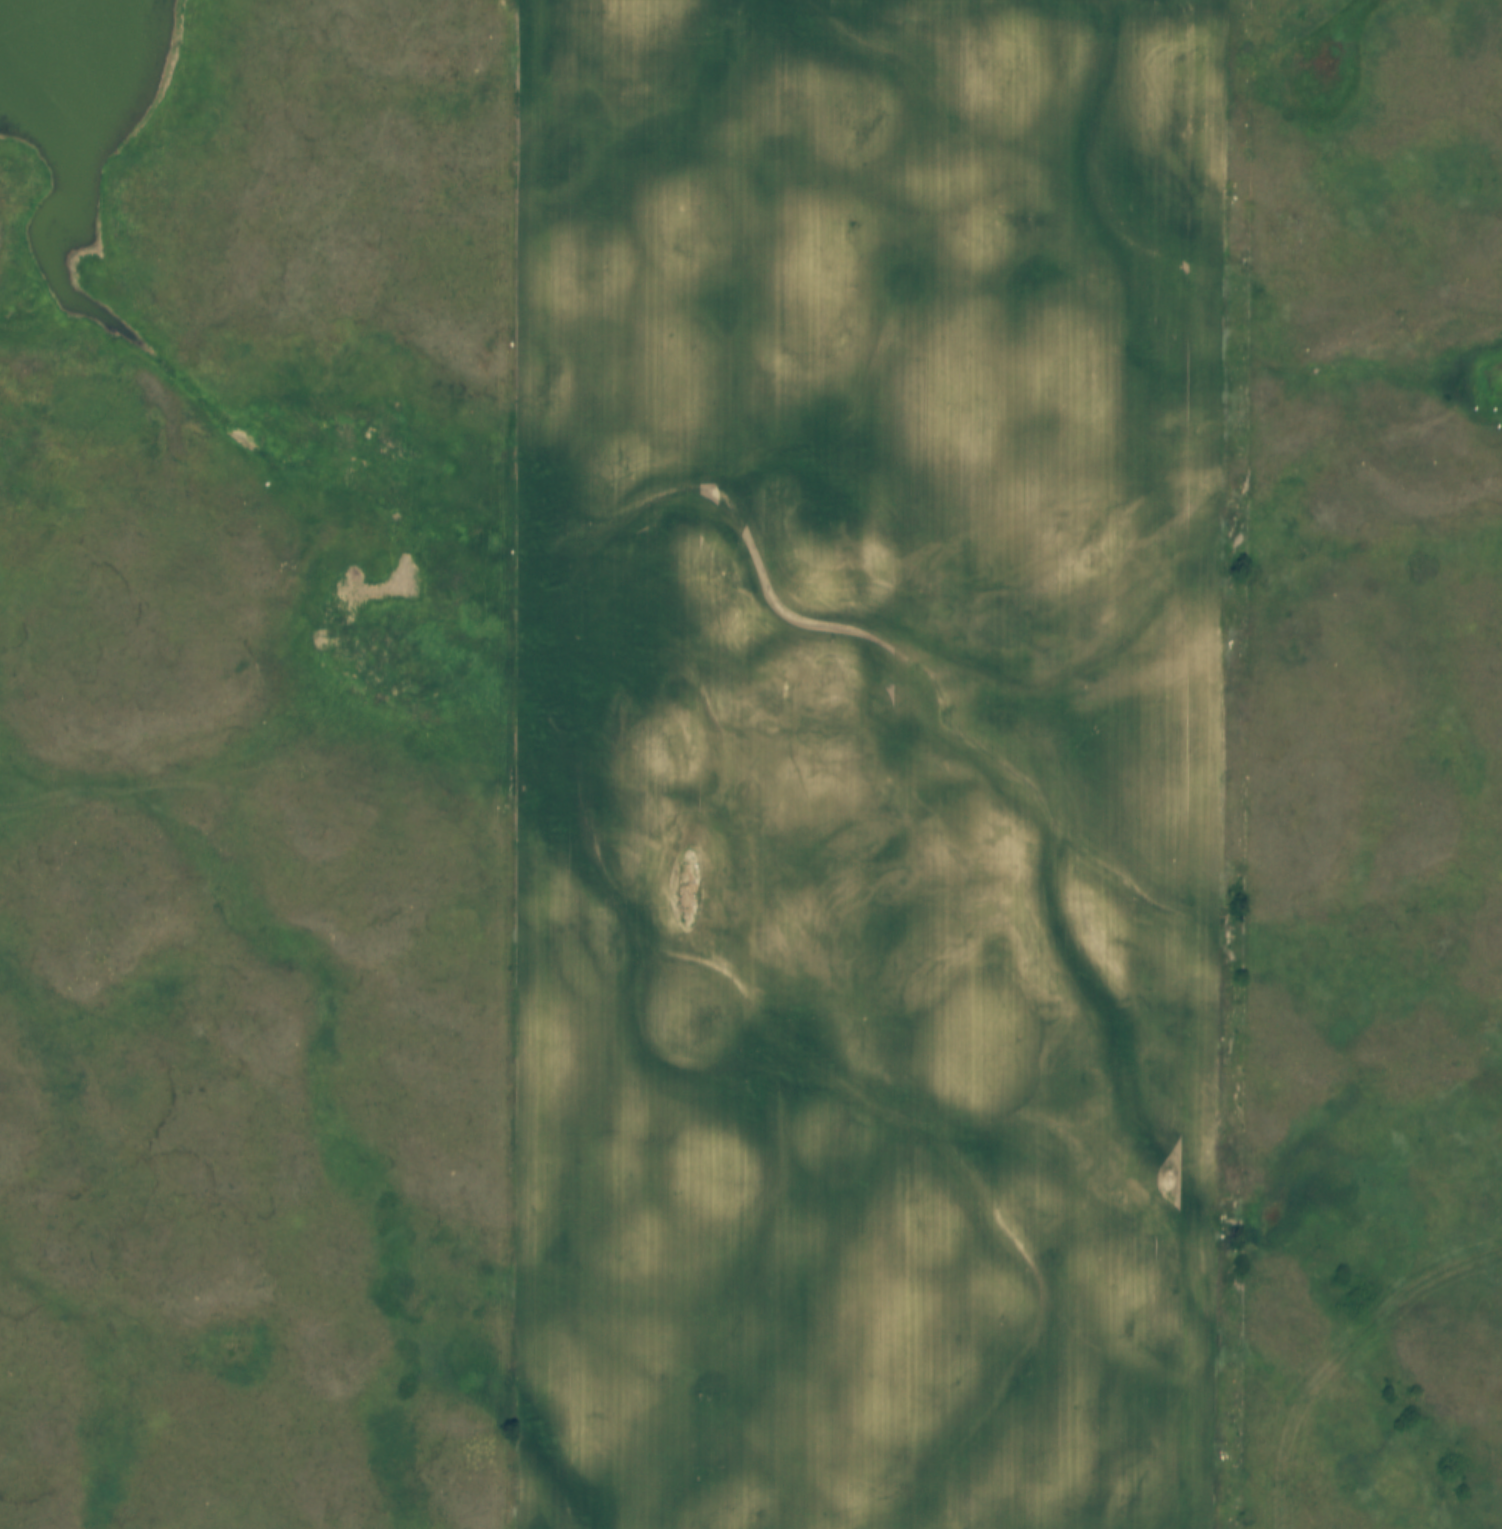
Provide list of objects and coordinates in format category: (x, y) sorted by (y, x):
road: (310, 345)

